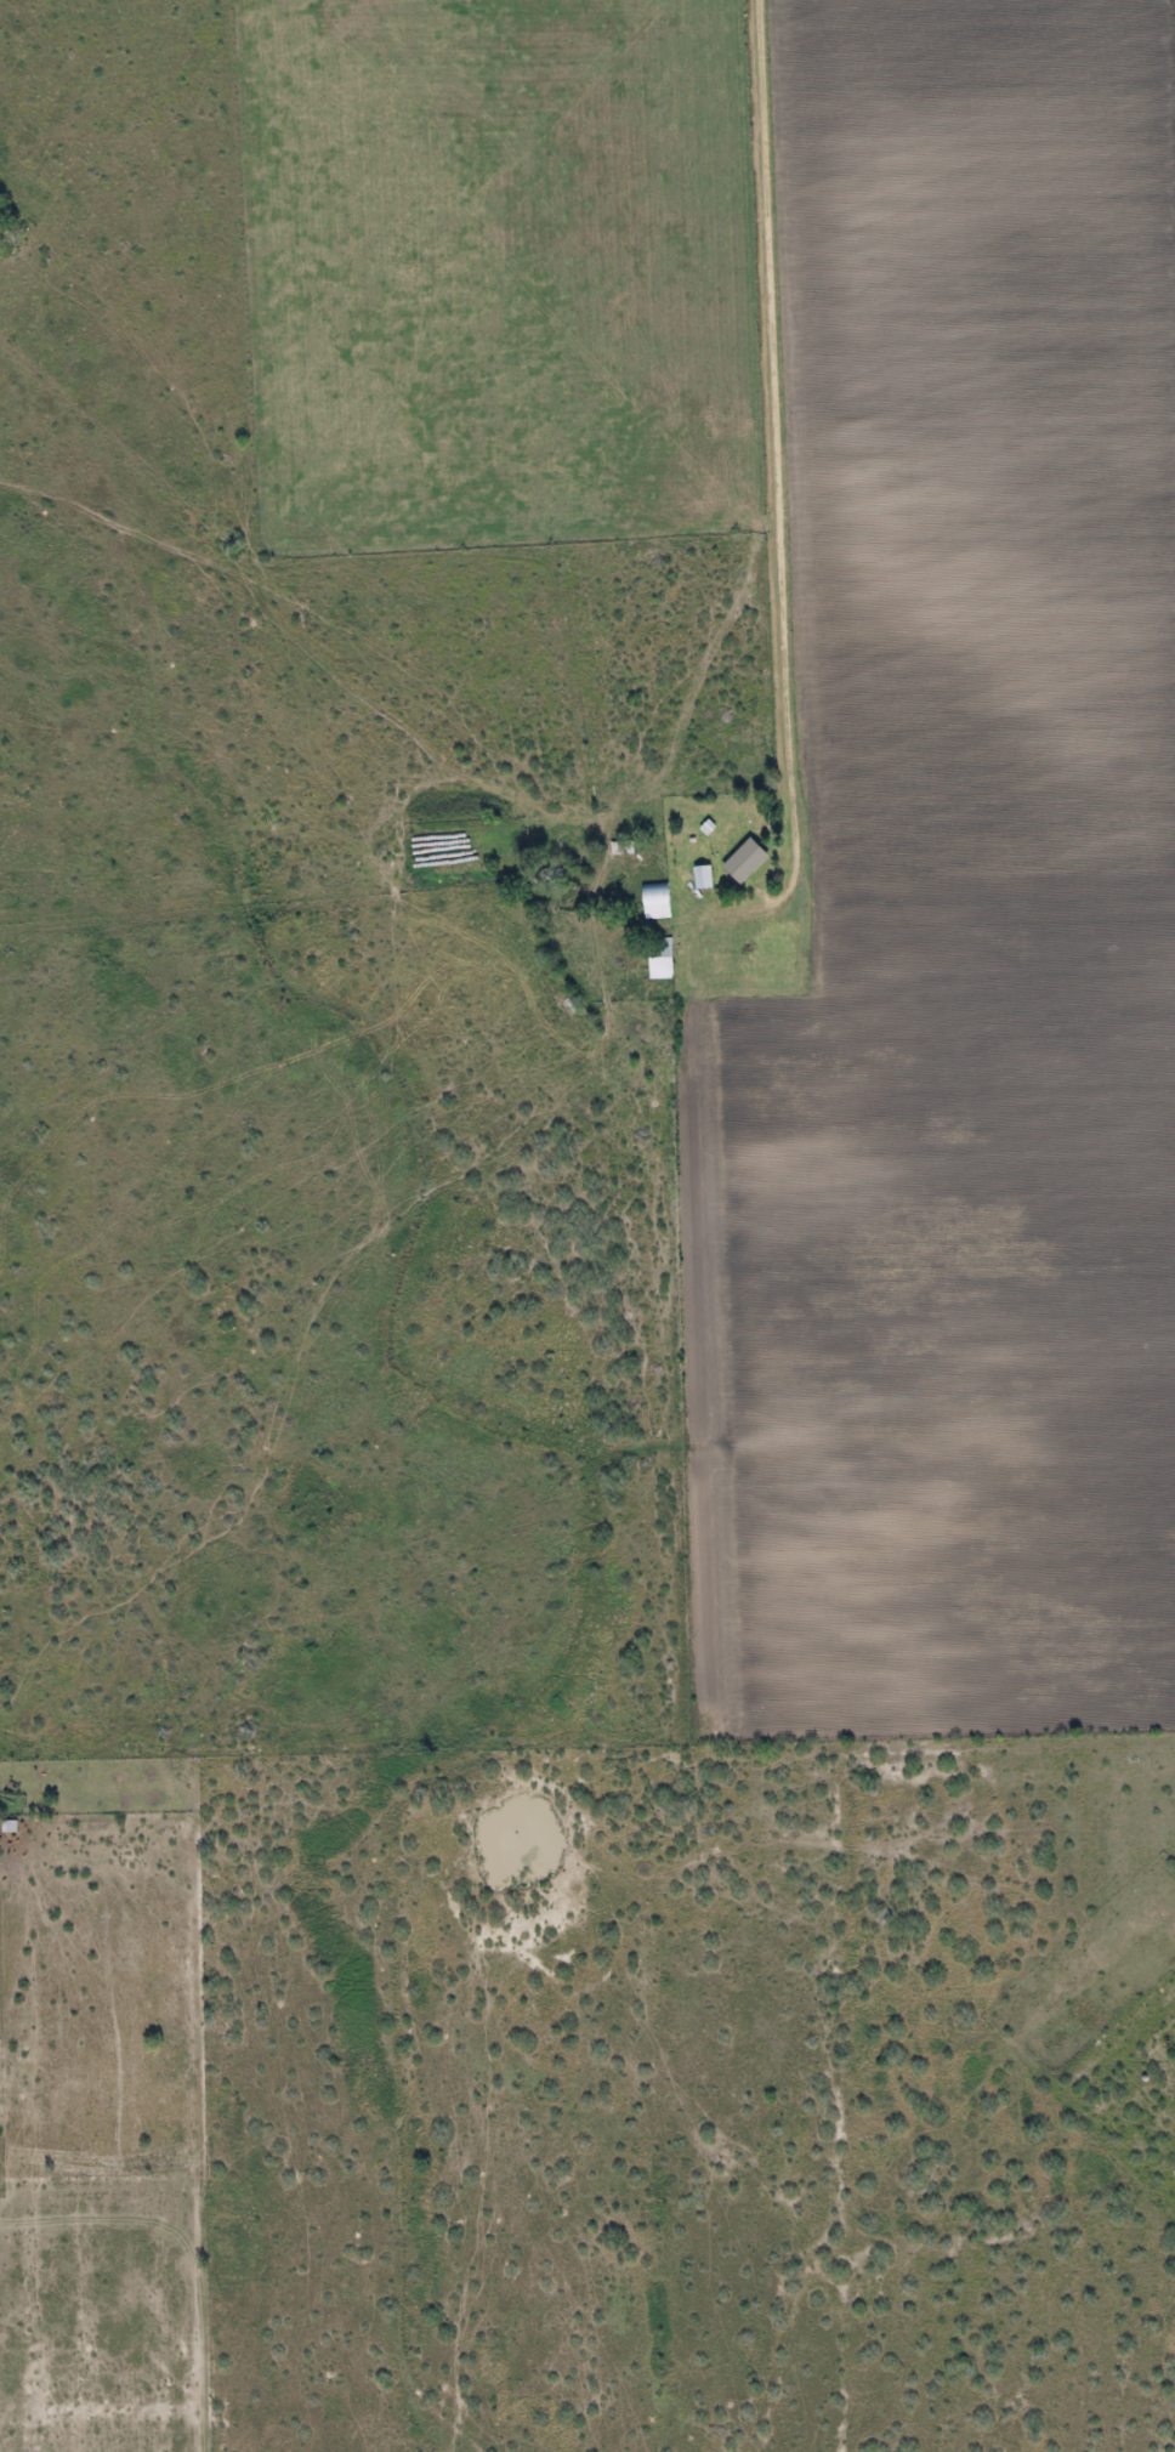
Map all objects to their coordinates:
road: (772, 486)
building: (747, 862)
building: (704, 878)
building: (662, 960)

